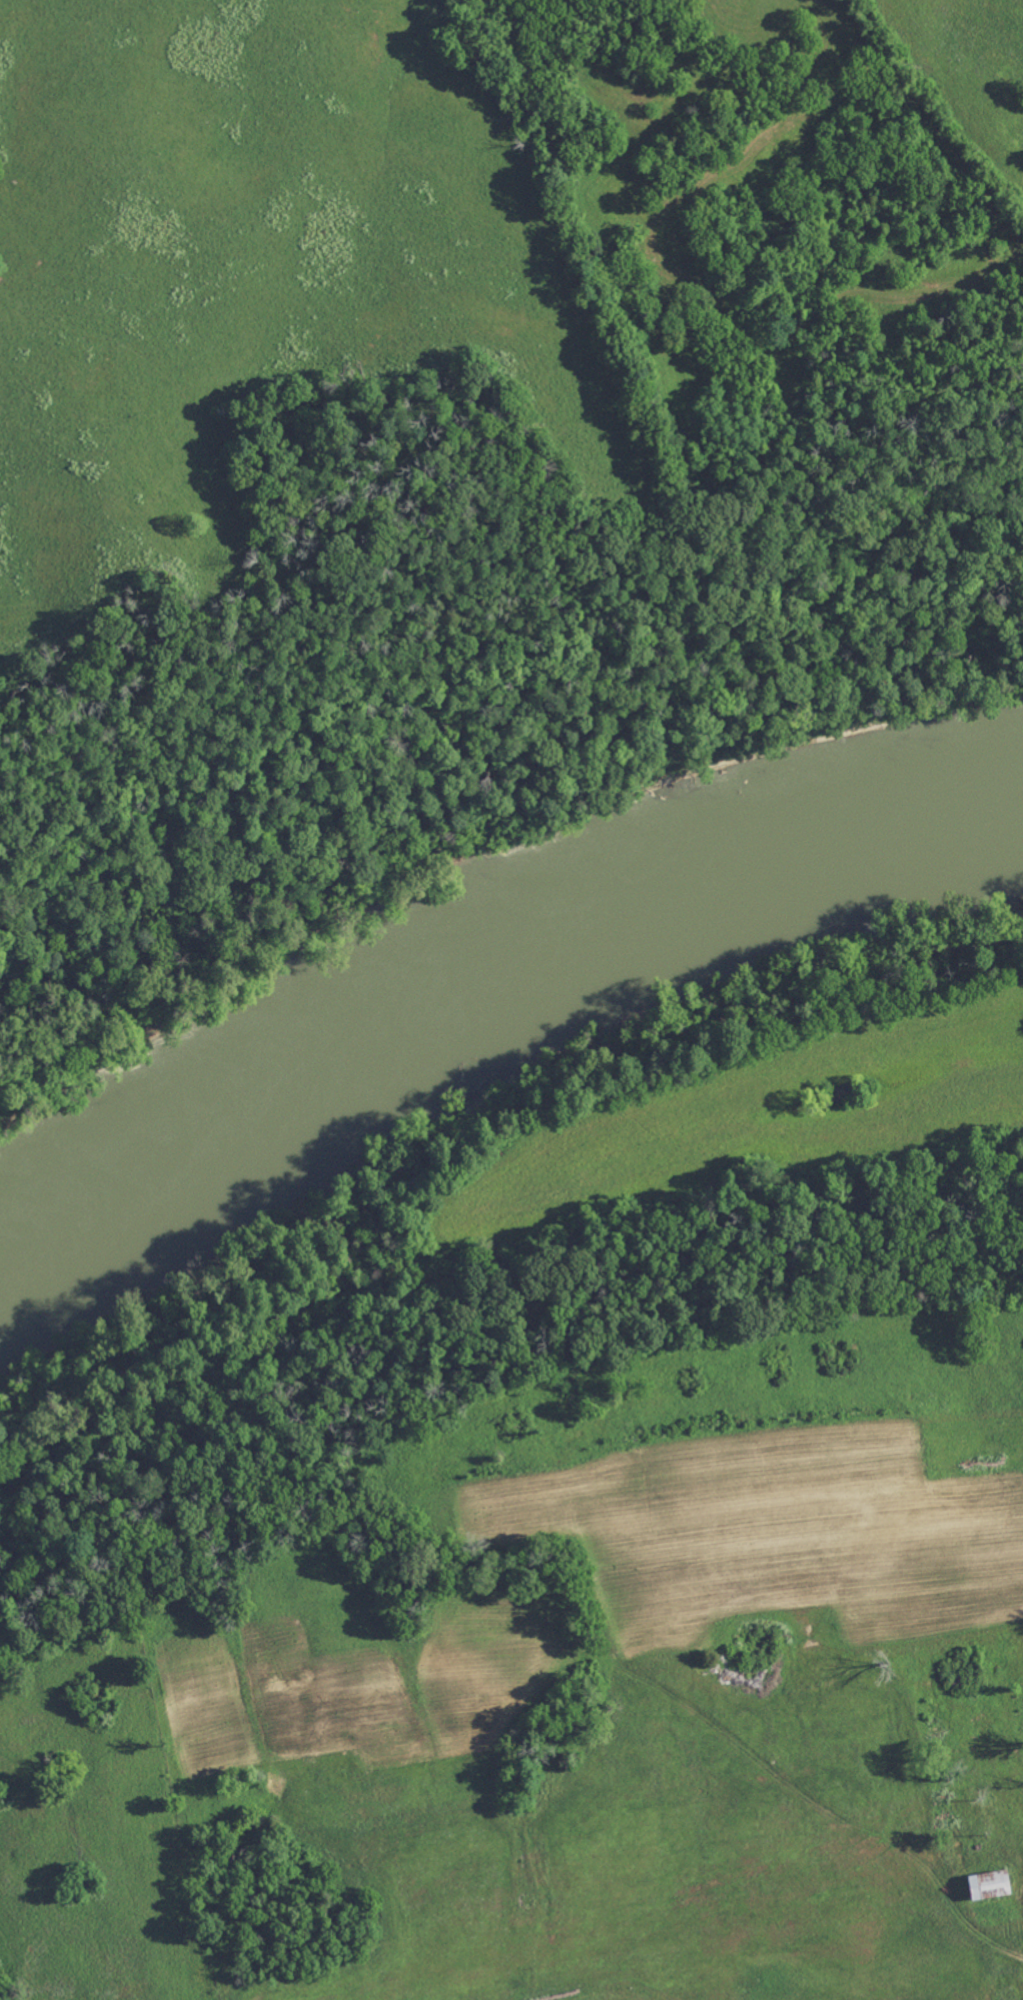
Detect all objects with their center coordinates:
river: (488, 972)
building: (990, 1885)
road: (968, 1936)

